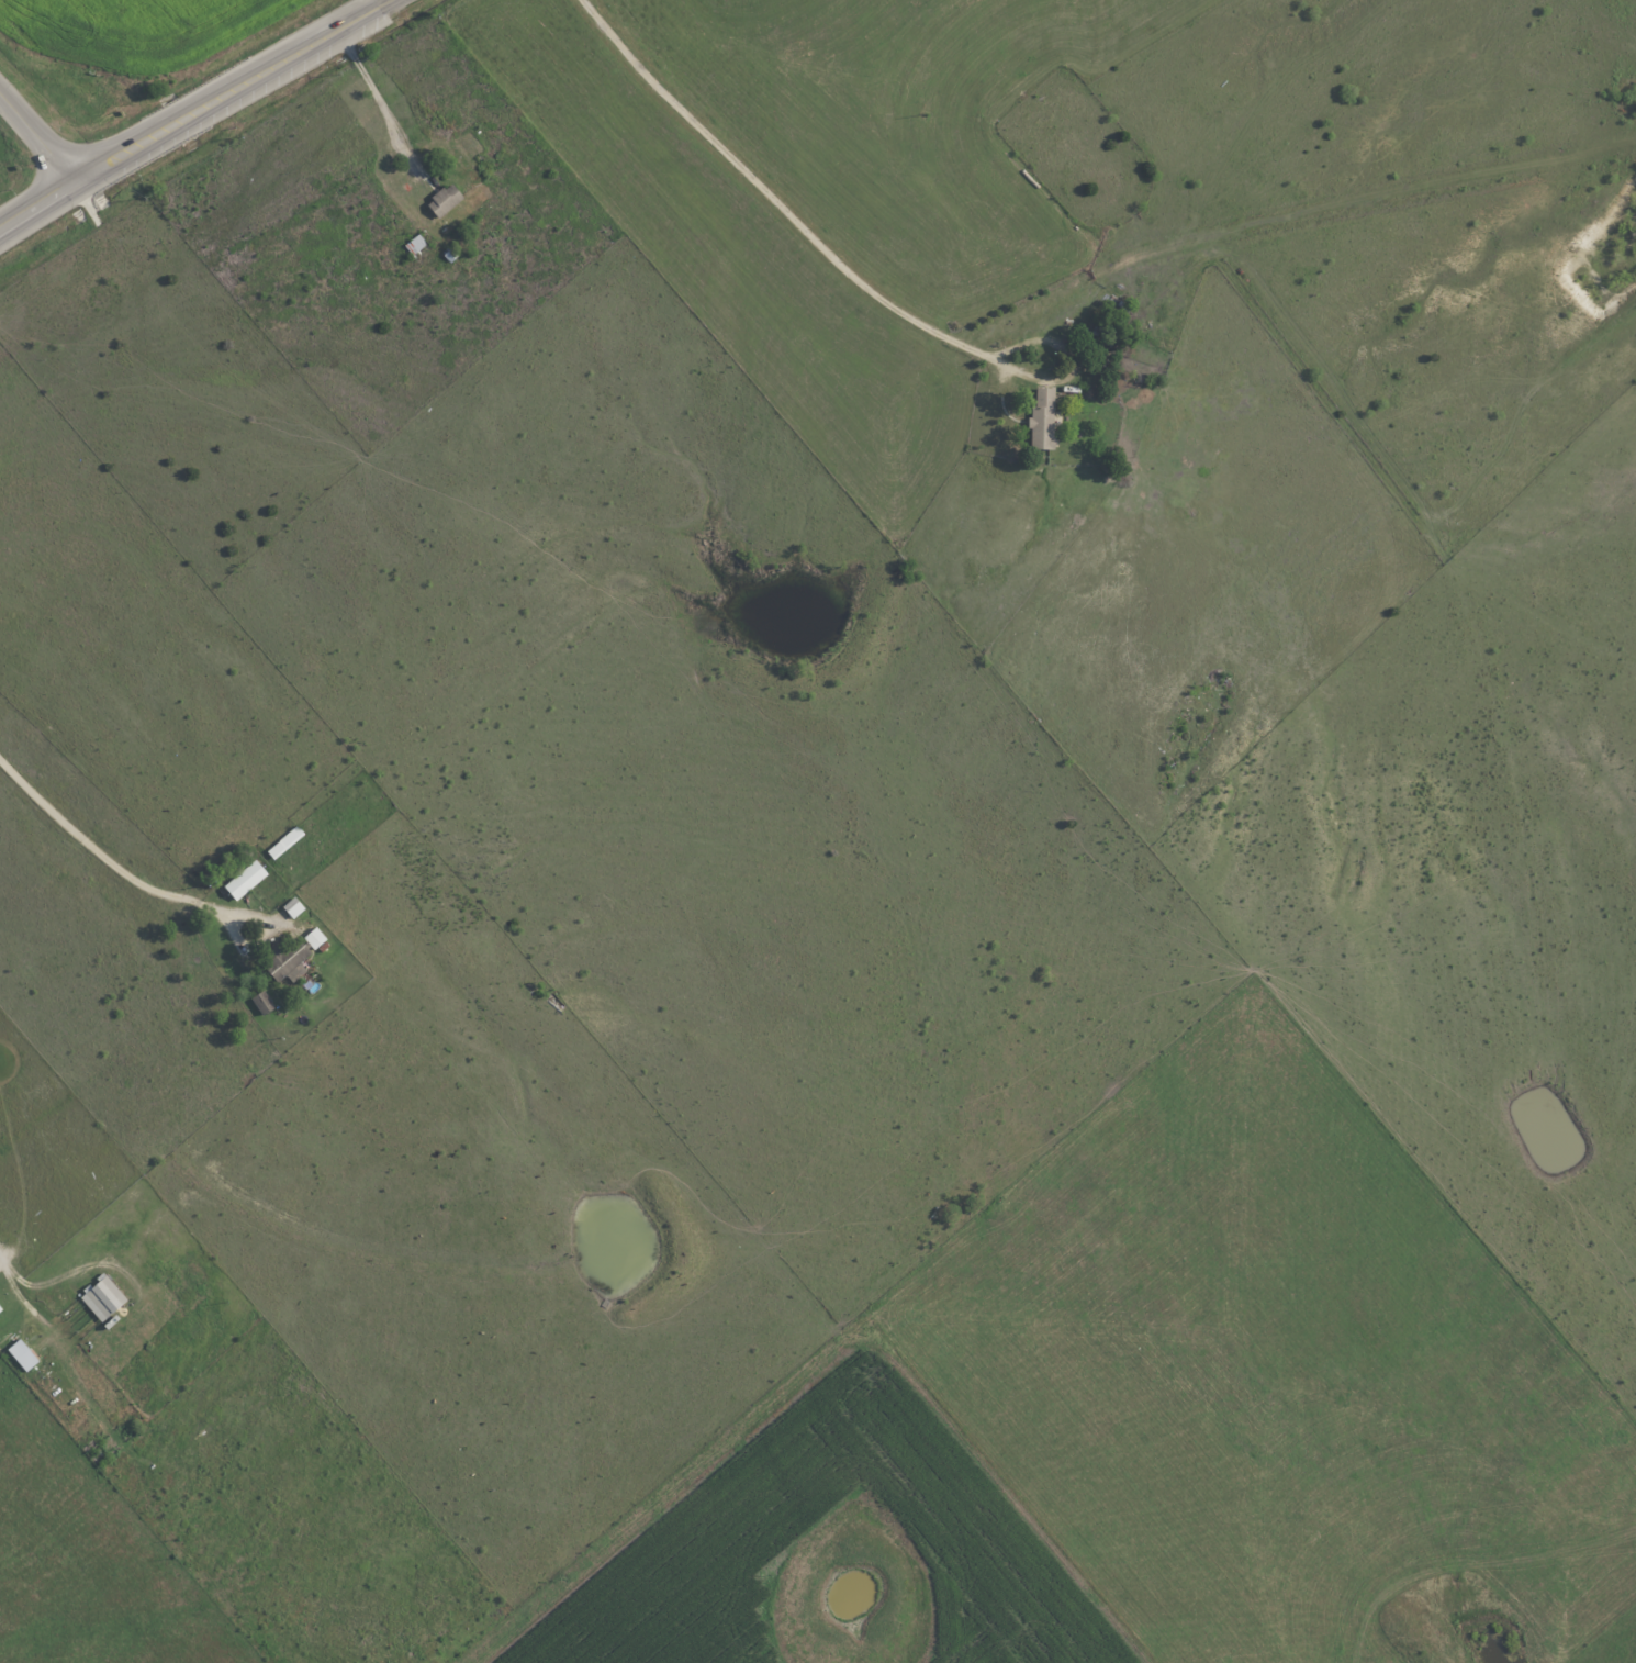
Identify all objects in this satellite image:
road: (369, 92)
road: (198, 114)
road: (40, 138)
building: (447, 199)
road: (793, 221)
building: (1043, 418)
road: (114, 864)
building: (248, 879)
building: (295, 906)
building: (317, 937)
building: (290, 959)
building: (265, 1001)
building: (105, 1296)
building: (1, 1307)
building: (25, 1354)
road: (1465, 1565)

